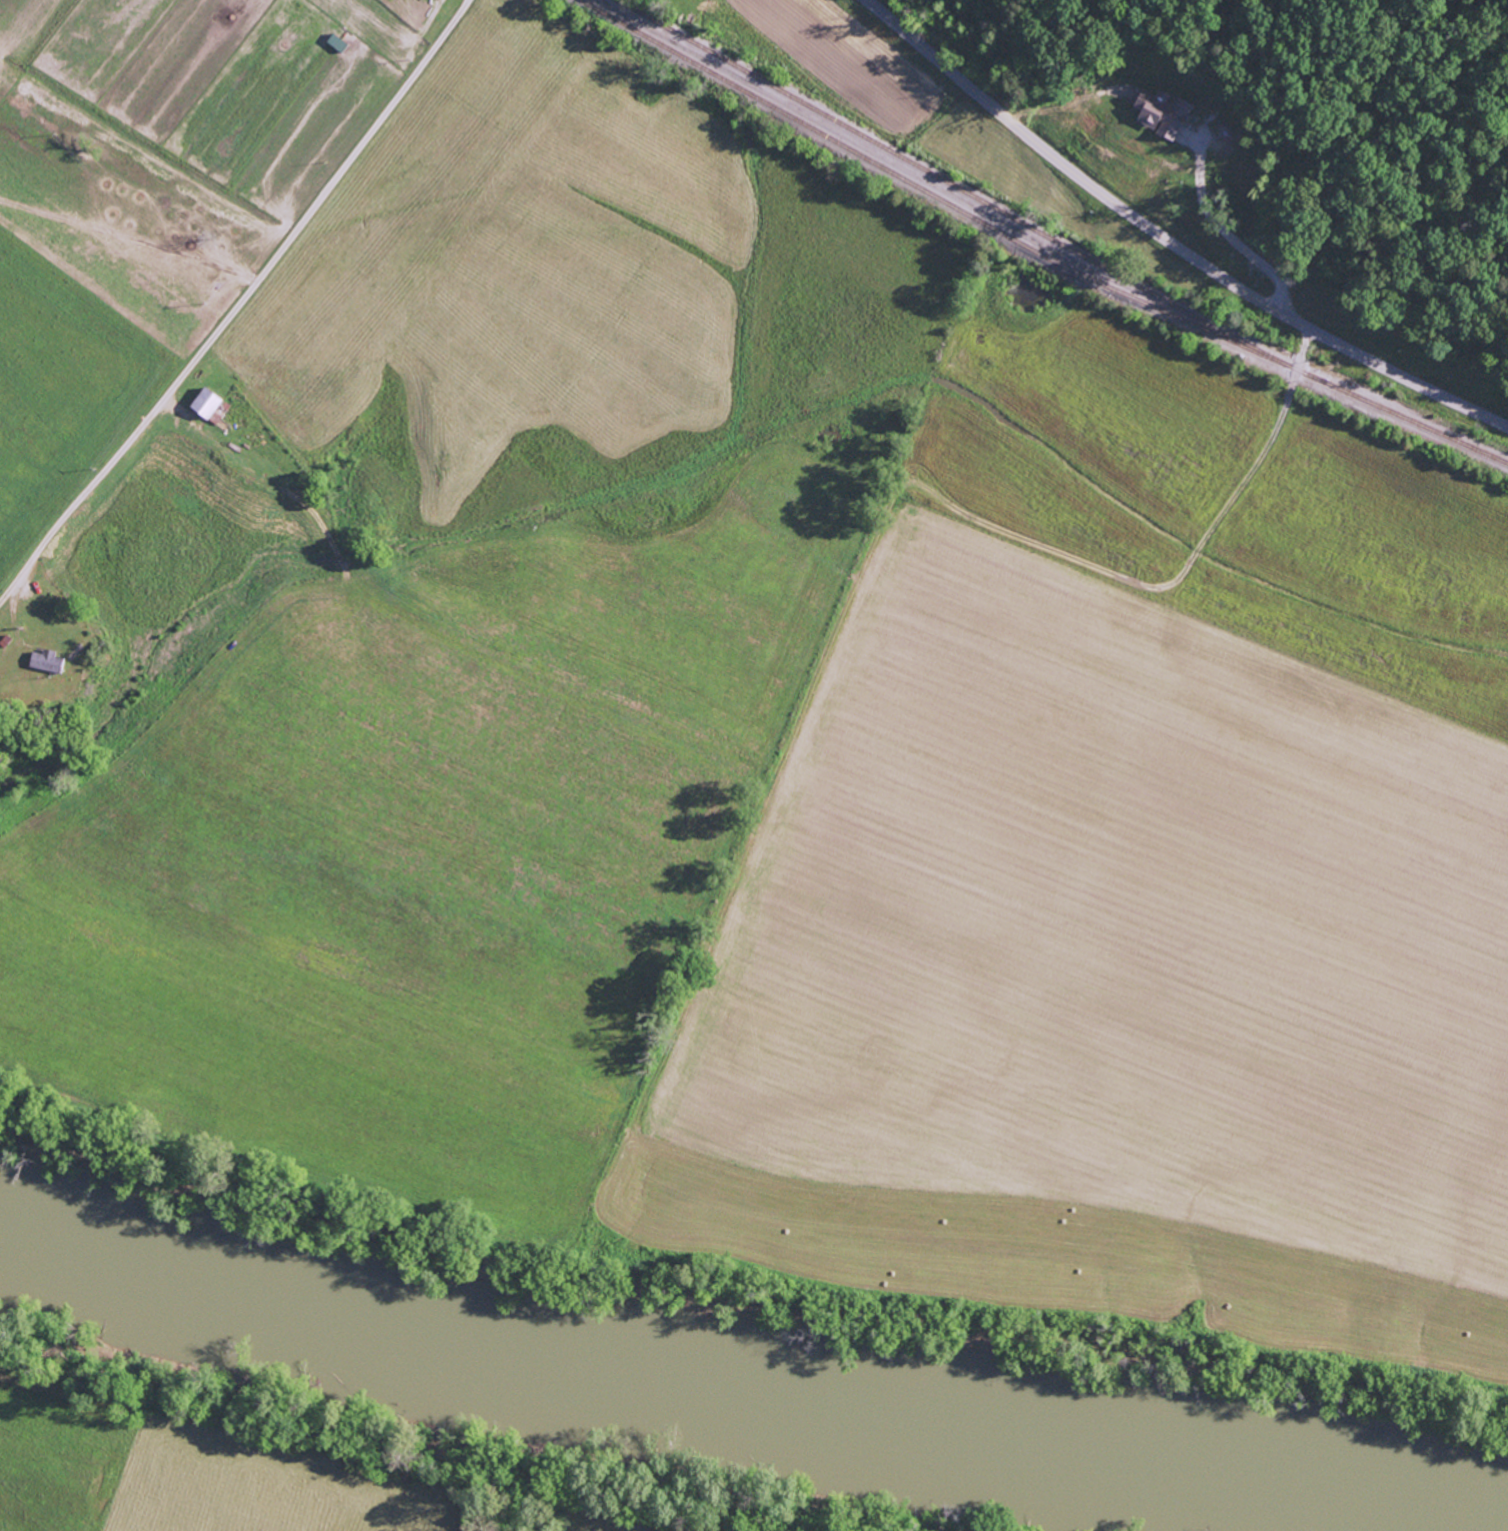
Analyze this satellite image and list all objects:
building: (434, 0)
building: (1168, 115)
railway: (930, 192)
road: (1170, 240)
railway: (1058, 242)
road: (260, 276)
building: (214, 402)
building: (52, 662)
river: (751, 1380)

